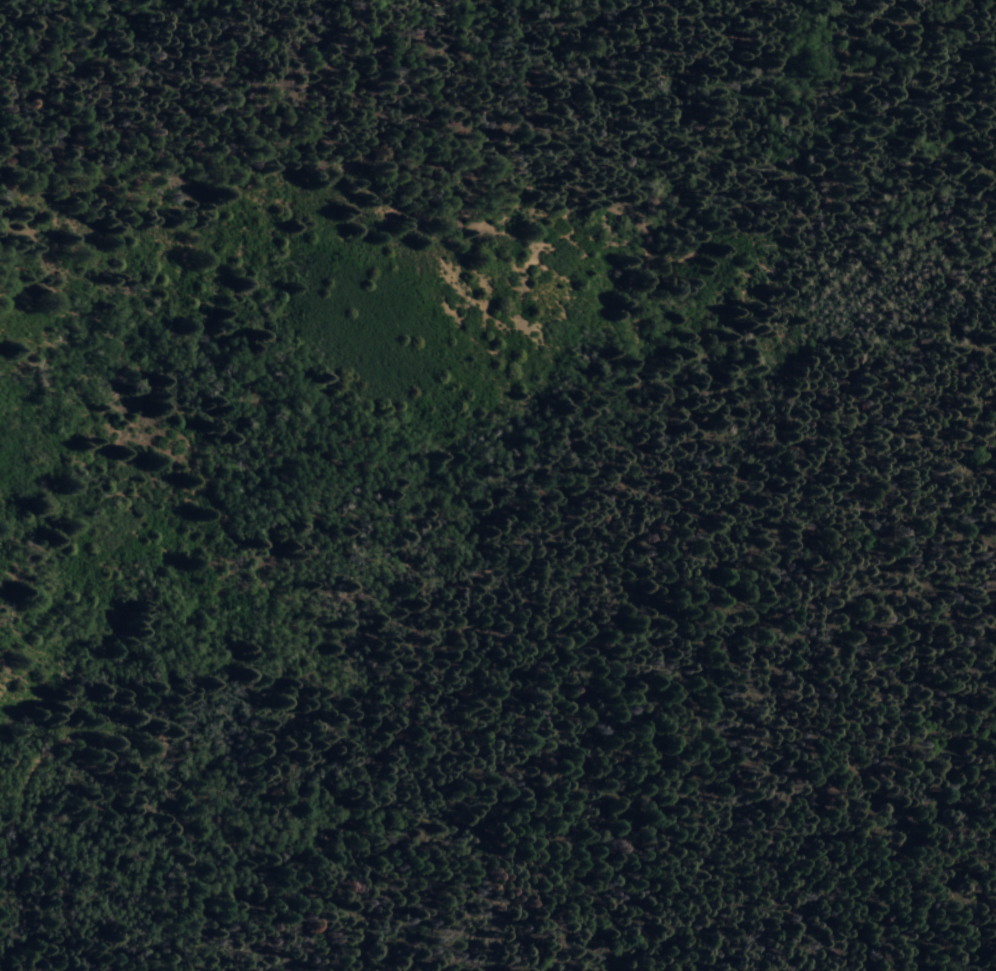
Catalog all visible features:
road: (527, 573)

